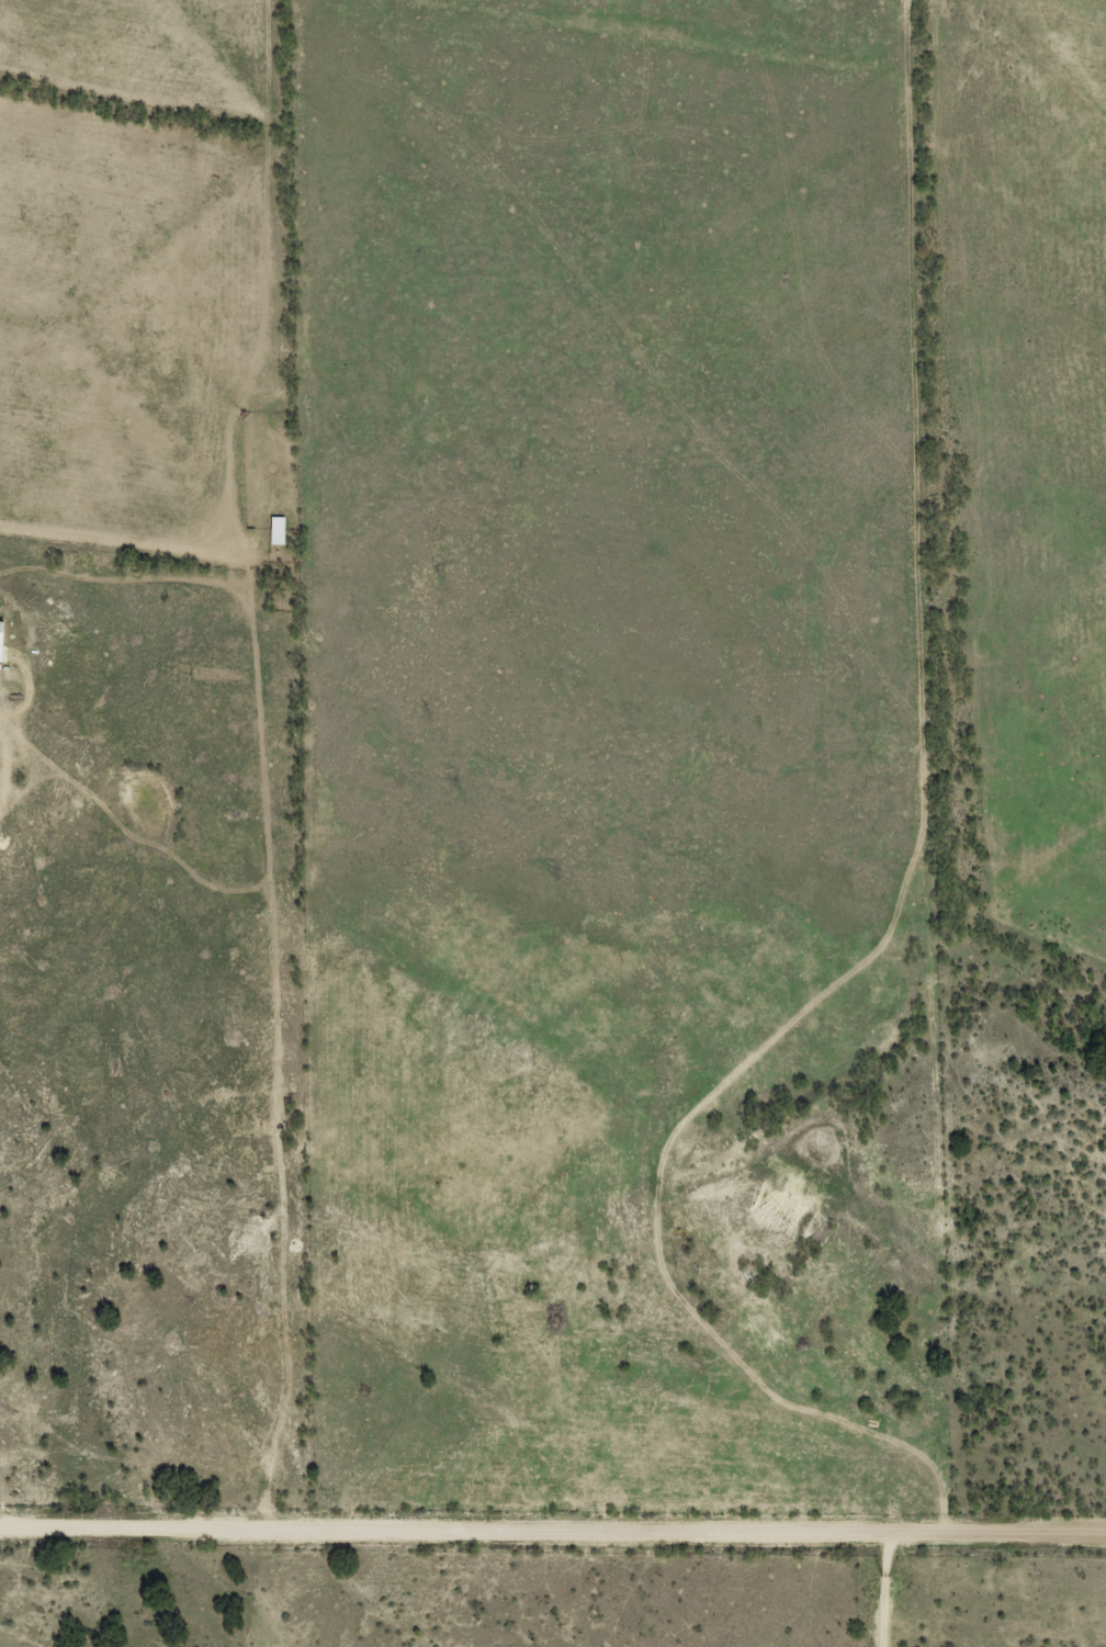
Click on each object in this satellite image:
road: (905, 844)
road: (553, 1519)
road: (889, 1587)

